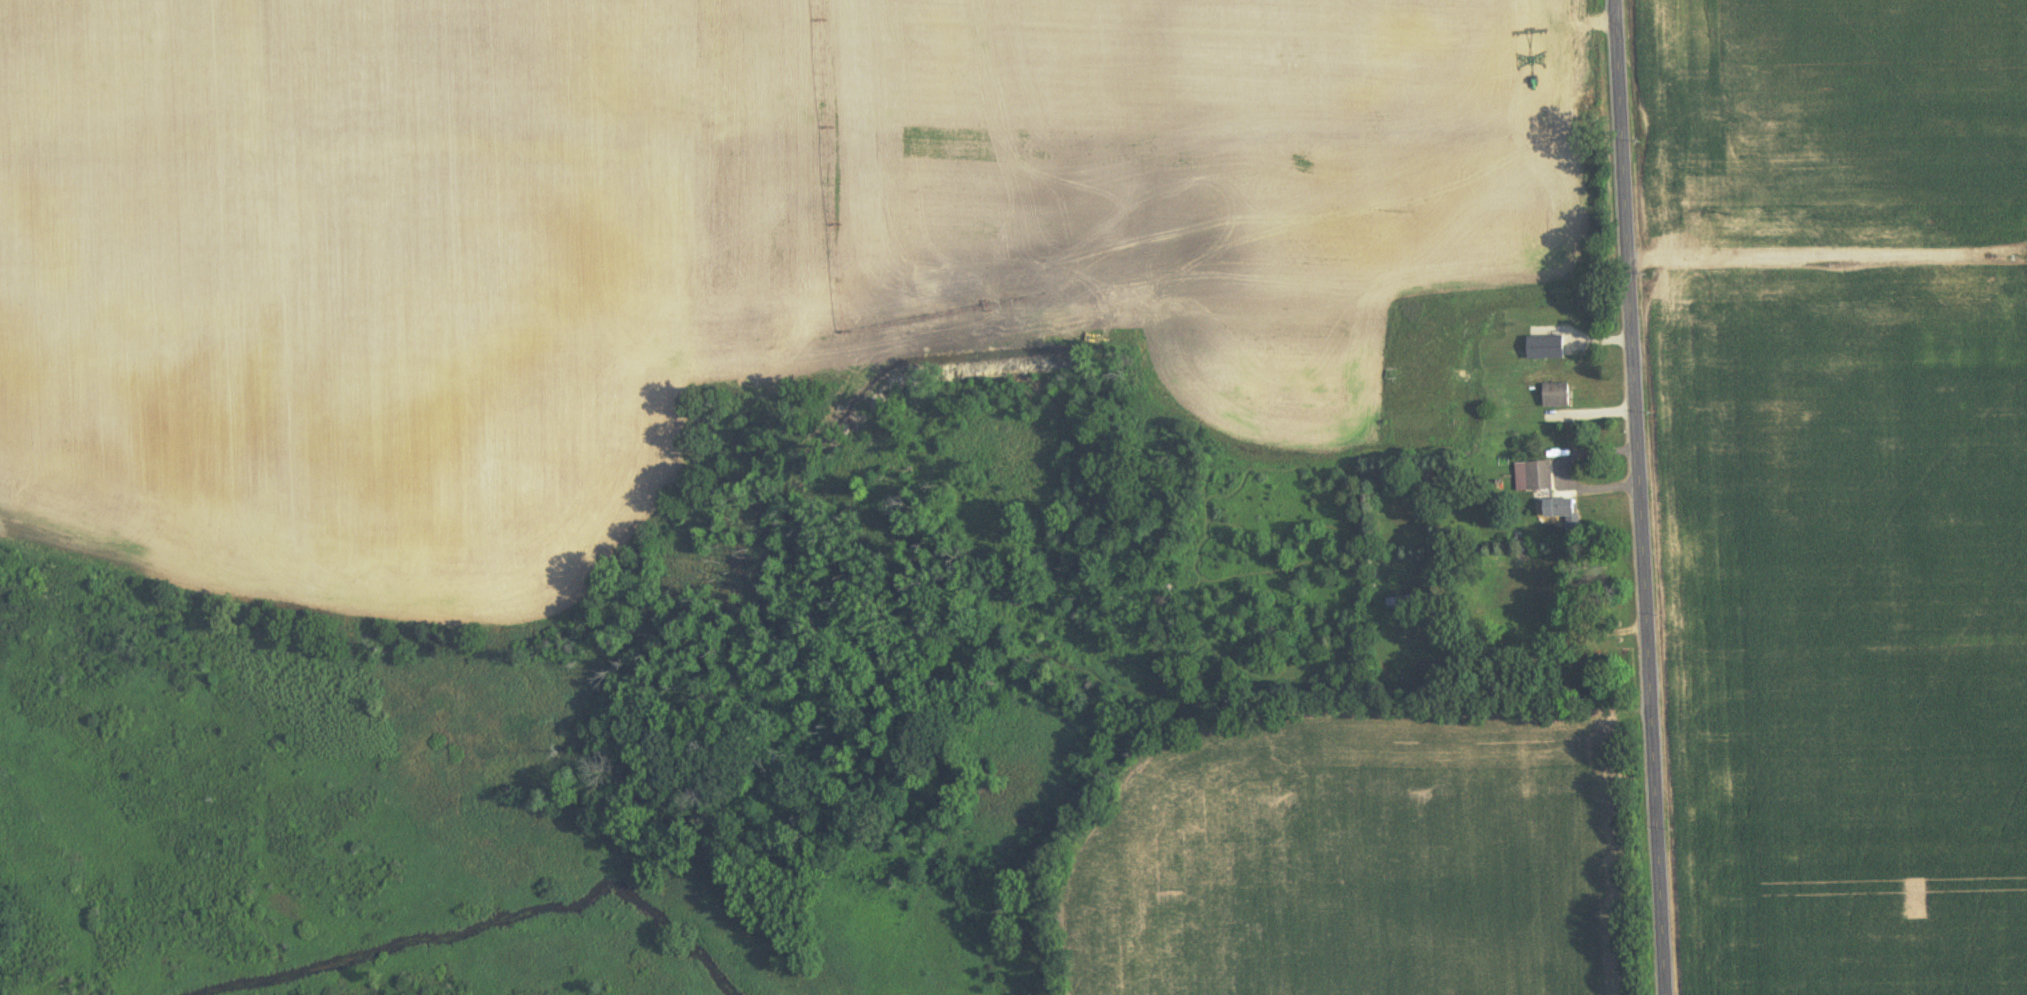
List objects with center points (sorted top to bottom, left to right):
building: (1557, 396)
road: (1569, 453)
building: (1534, 477)
road: (1644, 497)
building: (1564, 515)

